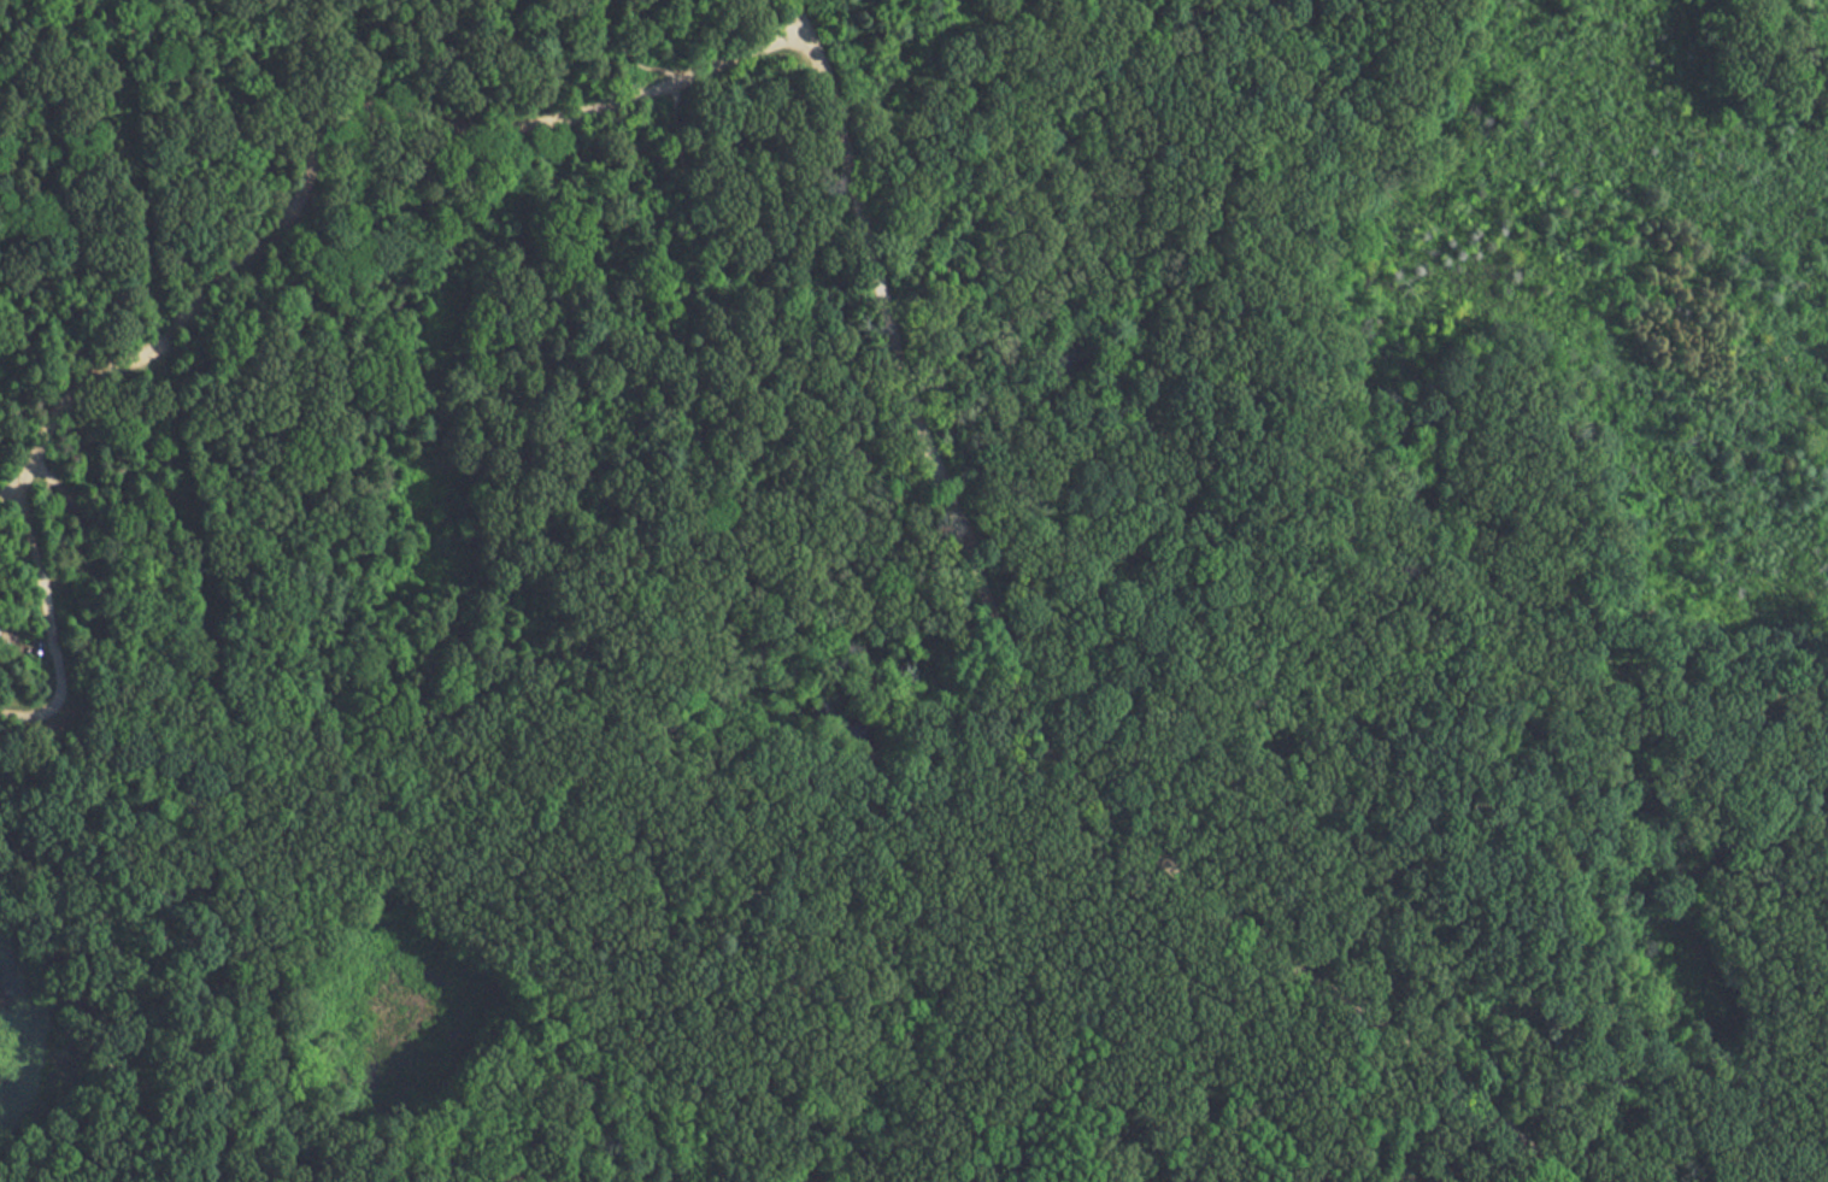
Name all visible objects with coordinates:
road: (801, 17)
road: (857, 28)
road: (139, 29)
road: (1277, 90)
road: (337, 124)
road: (1238, 367)
park: (922, 587)
road: (48, 616)
road: (1027, 710)
road: (77, 717)
road: (883, 871)
road: (195, 941)
road: (1450, 1090)
road: (1375, 1139)

